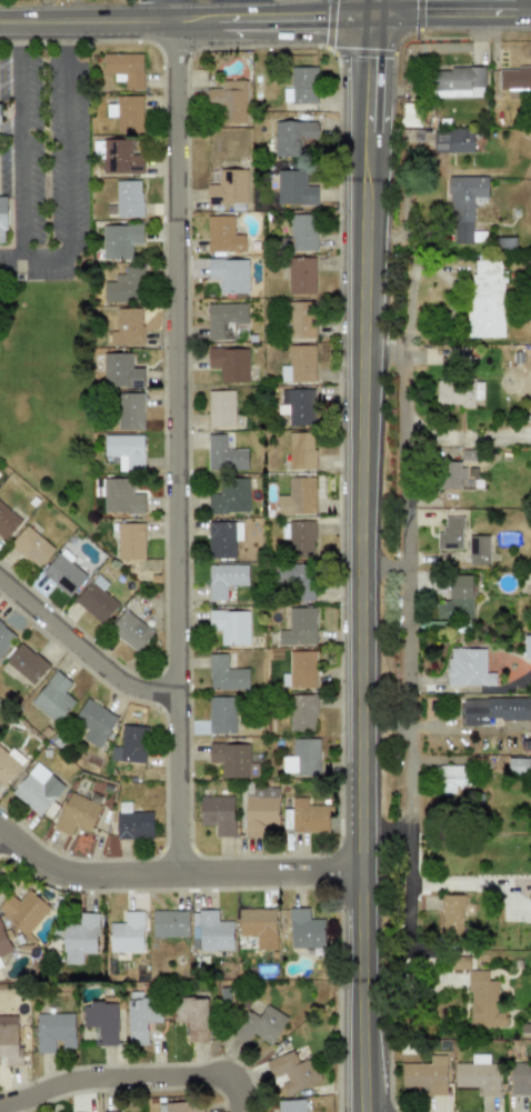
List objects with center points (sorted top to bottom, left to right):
road: (524, 9)
road: (152, 13)
road: (265, 21)
road: (69, 34)
road: (19, 36)
building: (124, 69)
building: (514, 77)
building: (457, 80)
building: (301, 86)
building: (229, 101)
building: (127, 113)
building: (0, 114)
building: (291, 137)
building: (452, 141)
road: (68, 150)
road: (19, 151)
building: (120, 158)
building: (228, 188)
building: (294, 188)
building: (128, 199)
building: (464, 204)
building: (2, 220)
building: (302, 232)
building: (222, 236)
building: (119, 240)
road: (33, 257)
building: (229, 274)
building: (300, 276)
building: (124, 287)
building: (485, 298)
building: (224, 320)
building: (301, 320)
building: (127, 328)
building: (229, 363)
building: (299, 364)
building: (120, 371)
building: (458, 392)
building: (300, 407)
building: (220, 409)
building: (129, 411)
building: (124, 450)
building: (300, 450)
road: (178, 452)
building: (223, 454)
building: (451, 475)
building: (121, 497)
building: (229, 497)
building: (297, 497)
building: (7, 521)
building: (451, 533)
building: (222, 539)
building: (300, 539)
building: (130, 541)
building: (30, 547)
building: (478, 549)
road: (360, 555)
building: (63, 572)
building: (301, 579)
building: (224, 580)
building: (457, 598)
building: (96, 600)
road: (412, 618)
building: (230, 625)
building: (299, 627)
building: (130, 631)
building: (4, 637)
building: (527, 647)
road: (83, 654)
building: (27, 663)
building: (468, 668)
building: (224, 674)
building: (53, 698)
building: (493, 710)
building: (302, 711)
building: (221, 715)
building: (92, 722)
building: (130, 744)
building: (301, 757)
building: (233, 760)
building: (9, 764)
building: (519, 765)
building: (453, 778)
building: (37, 789)
building: (260, 811)
building: (76, 814)
building: (218, 814)
building: (308, 815)
building: (132, 822)
road: (174, 879)
building: (24, 910)
building: (451, 914)
building: (169, 923)
building: (258, 926)
building: (304, 930)
building: (211, 932)
building: (127, 933)
building: (80, 939)
building: (3, 942)
building: (0, 964)
building: (483, 1001)
building: (140, 1016)
building: (191, 1016)
building: (259, 1025)
building: (53, 1032)
building: (9, 1039)
building: (292, 1073)
building: (425, 1074)
building: (478, 1074)
building: (520, 1078)
road: (129, 1079)
building: (291, 1105)
building: (180, 1106)

